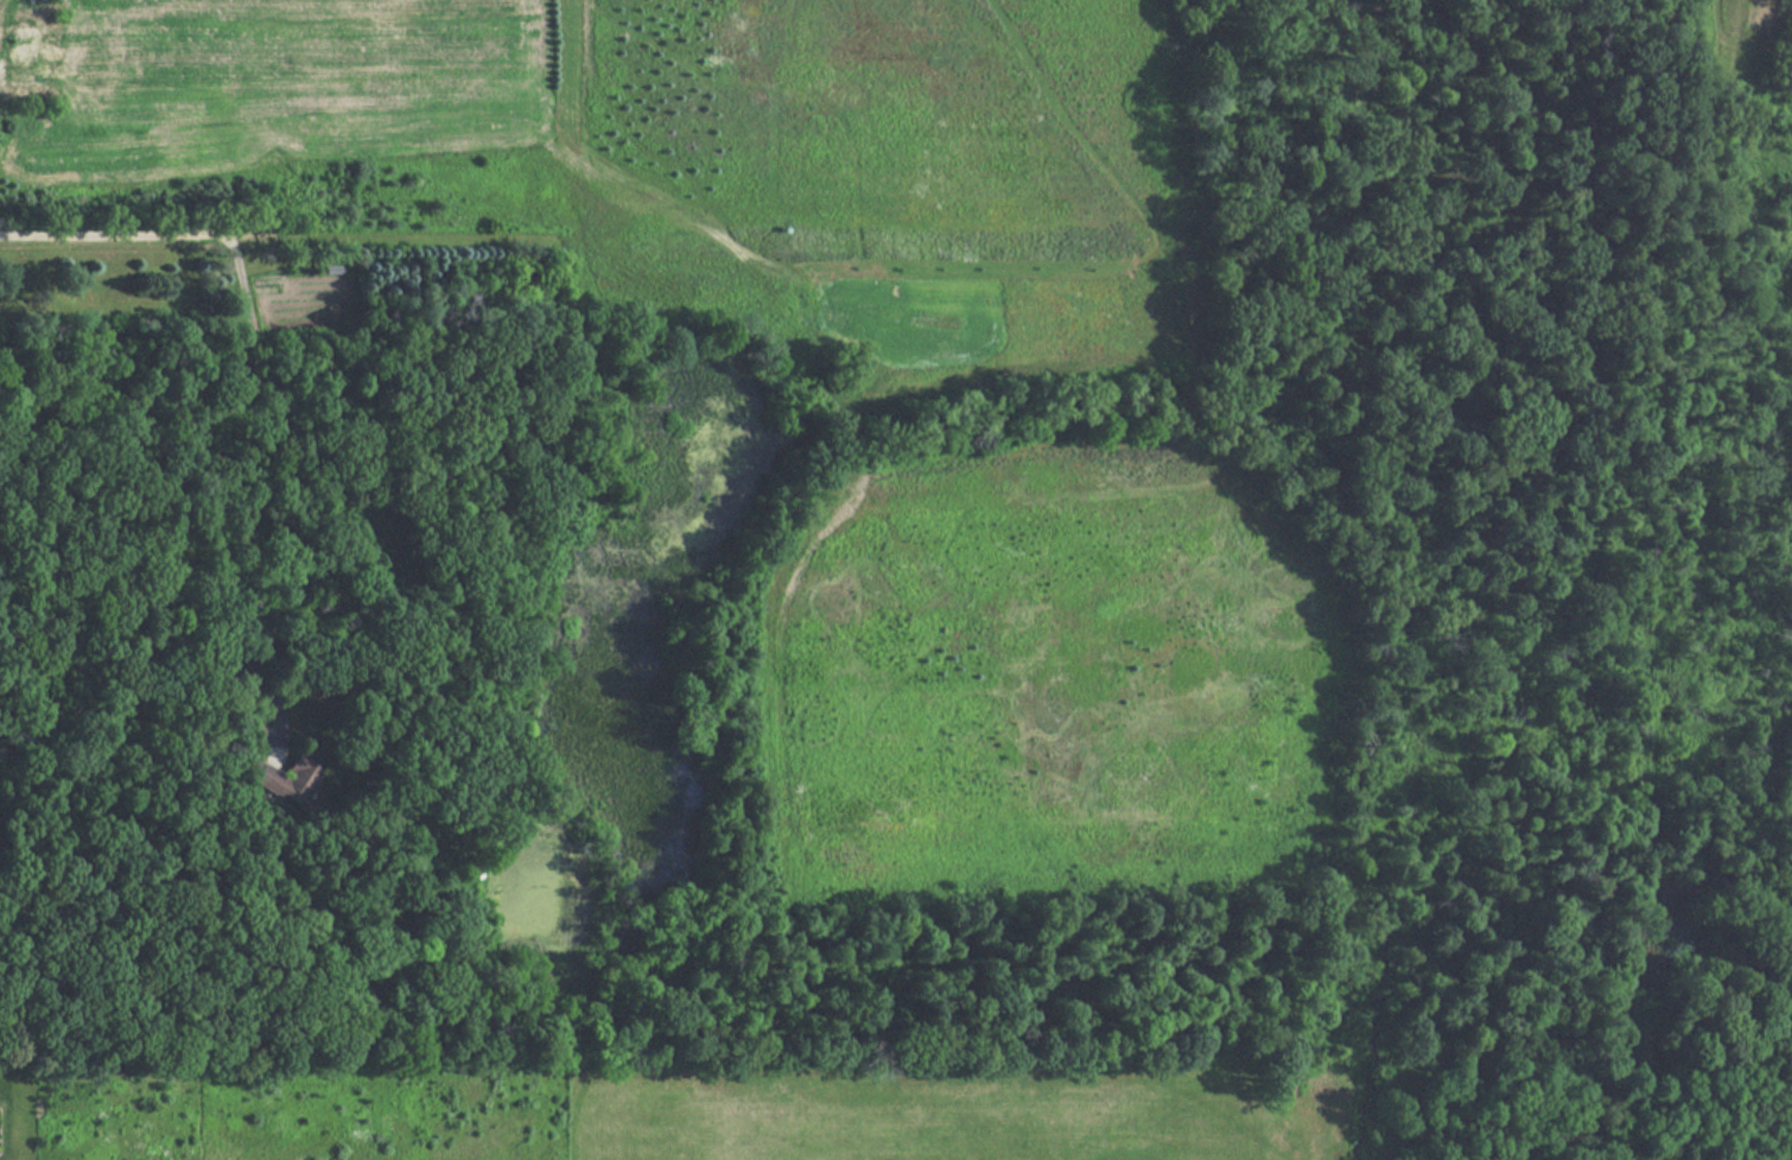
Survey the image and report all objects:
road: (262, 376)
building: (290, 779)

